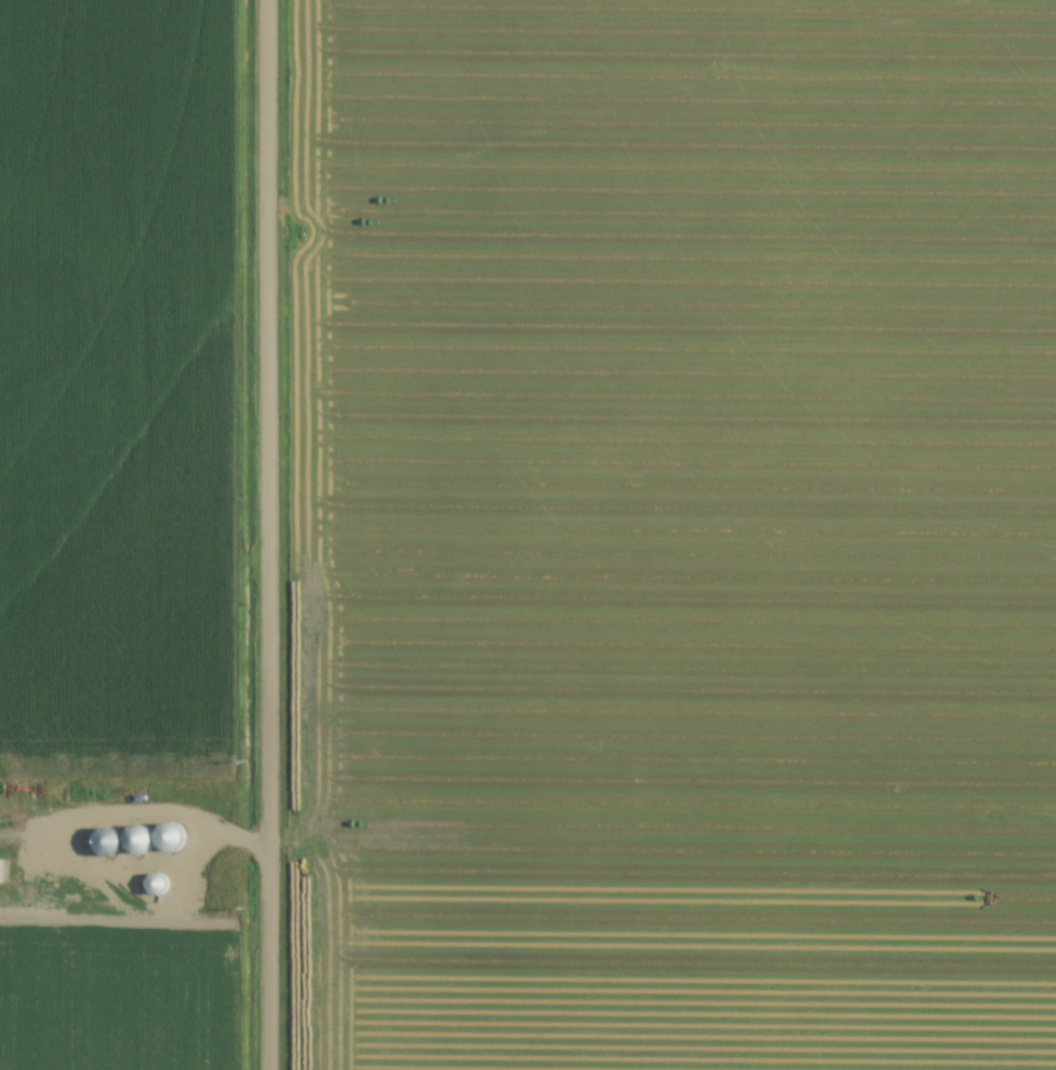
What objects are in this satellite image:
crop: (113, 383)
road: (266, 534)
crop: (673, 534)
silo: (169, 835)
road: (28, 836)
road: (57, 837)
silo: (138, 838)
building: (170, 839)
building: (137, 840)
road: (151, 866)
building: (2, 872)
silo: (157, 884)
building: (157, 885)
crop: (119, 994)

